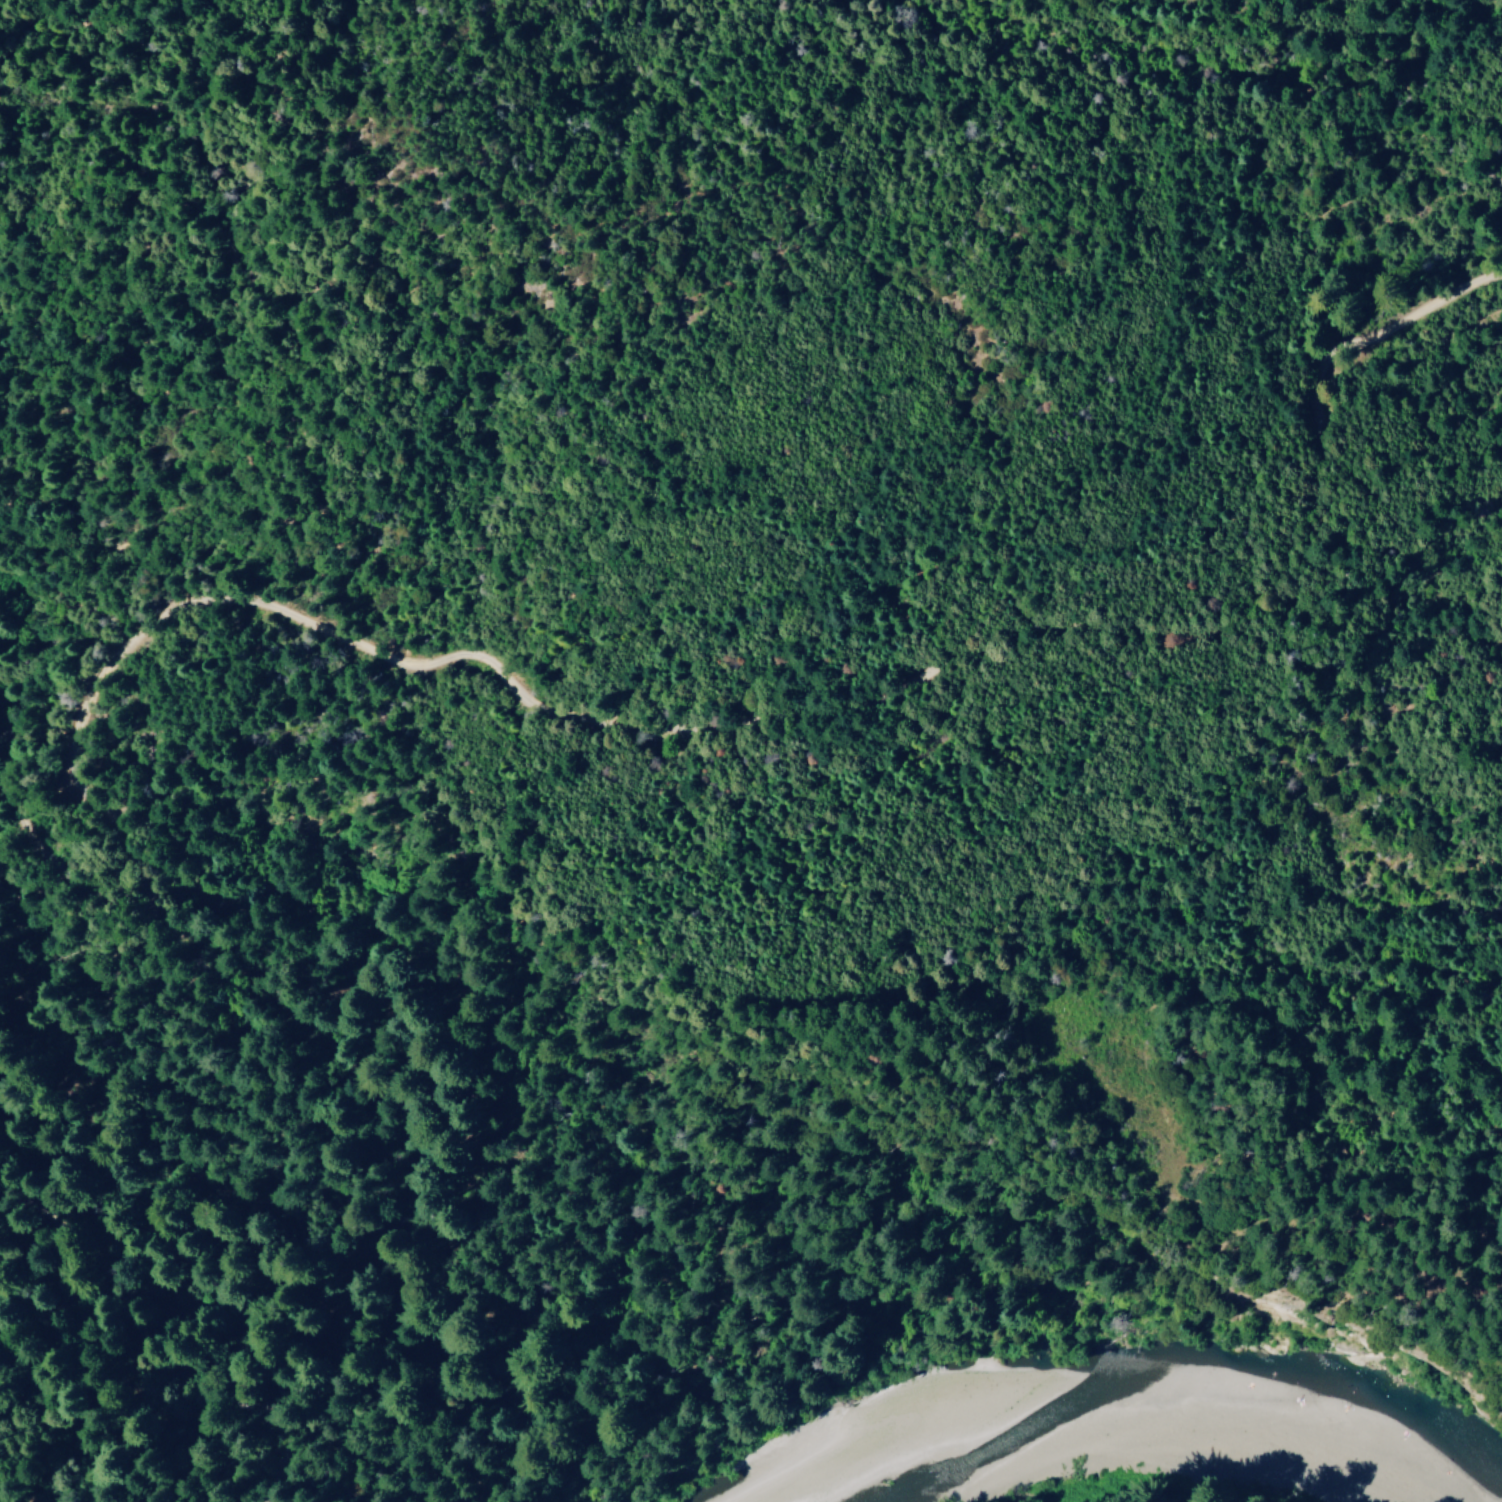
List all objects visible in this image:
road: (656, 725)
road: (175, 1262)
river: (1100, 1360)

